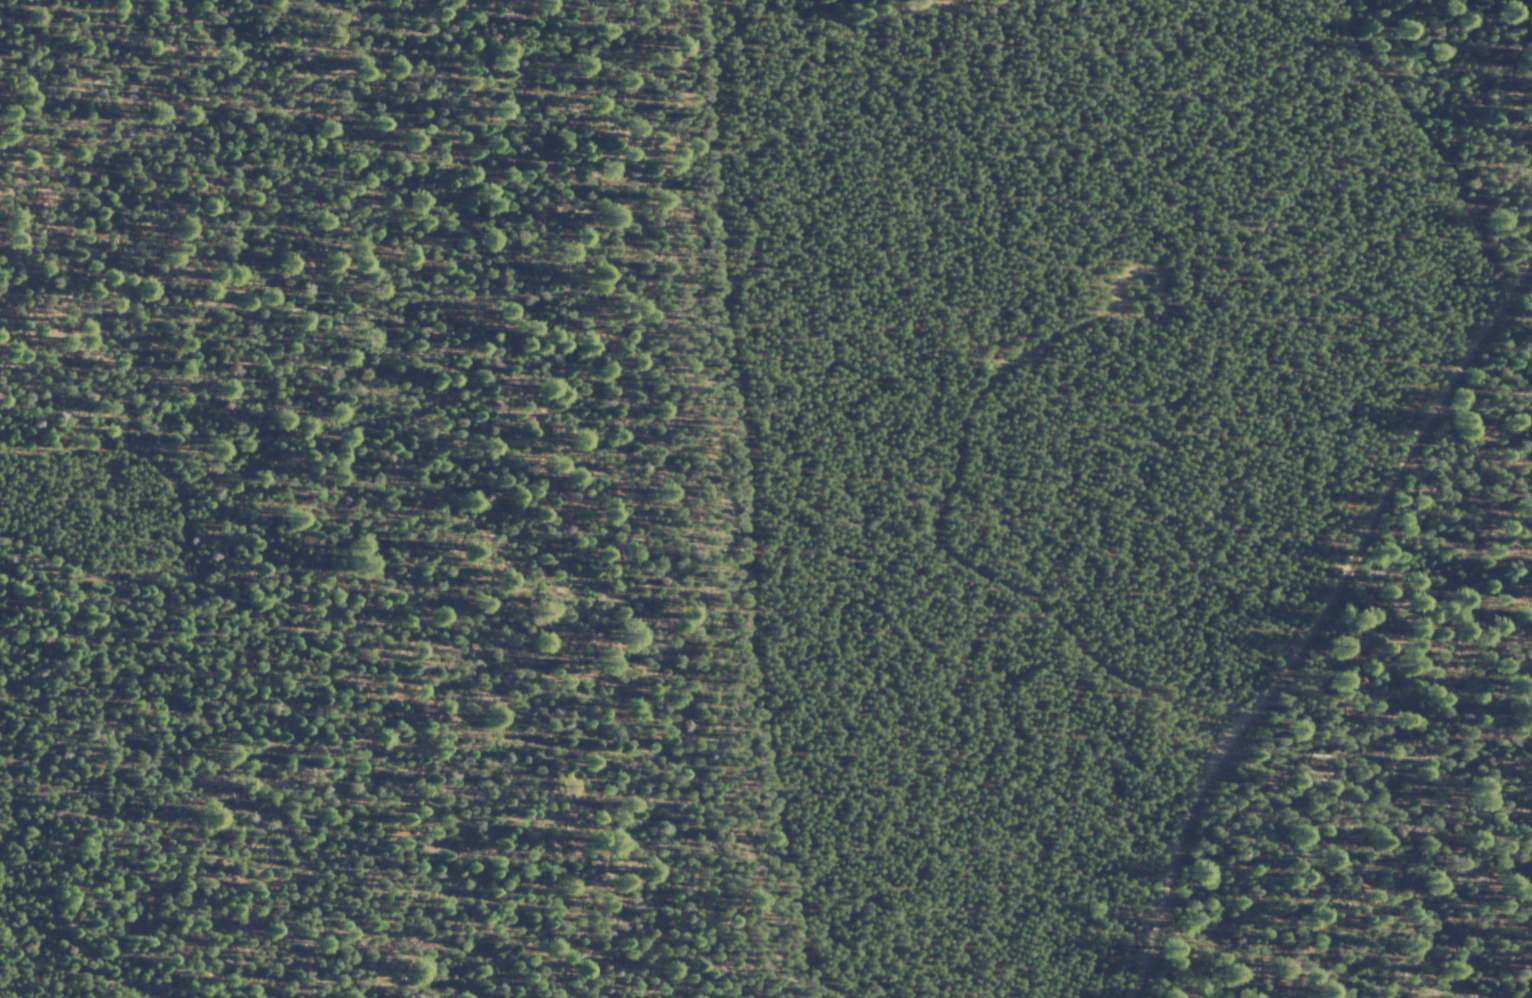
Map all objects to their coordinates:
road: (1340, 736)

